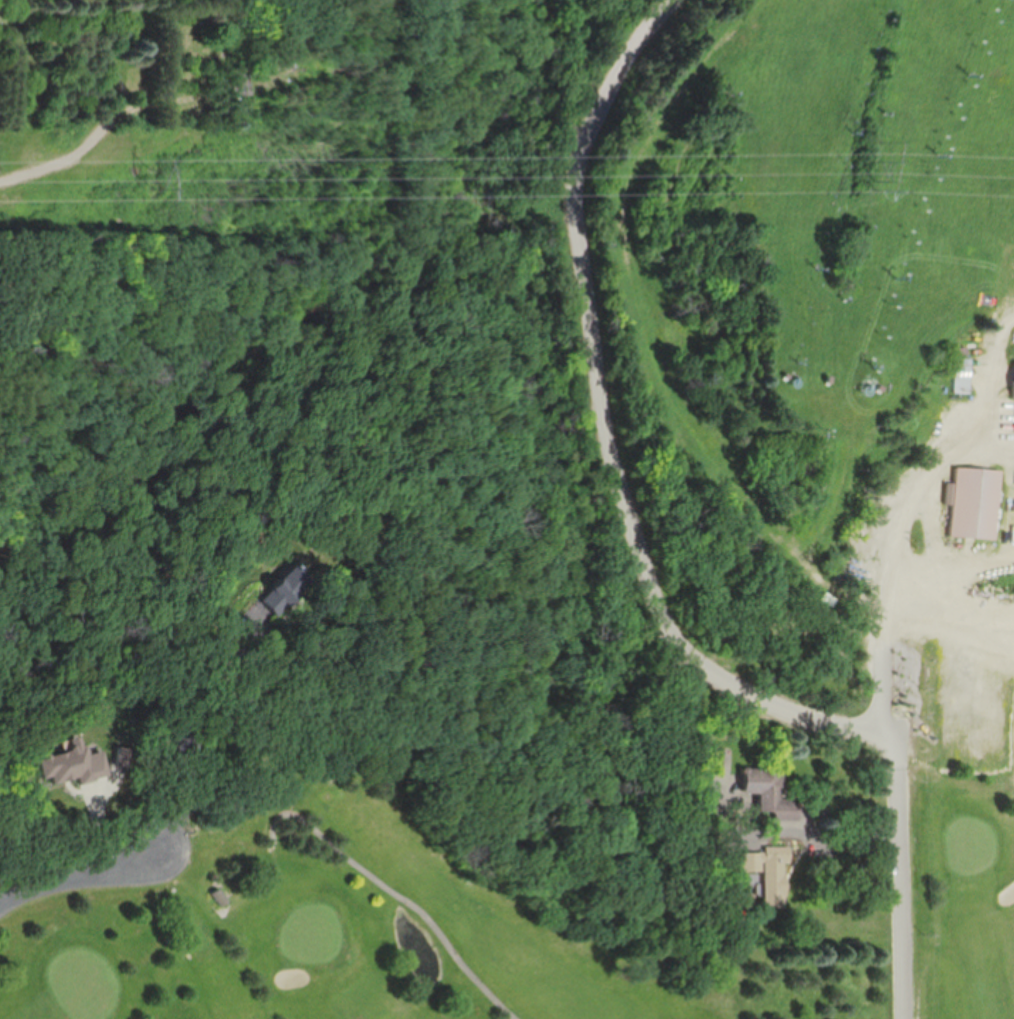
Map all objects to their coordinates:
aerialway pylon: (962, 76)
aerialway pylon: (847, 132)
aerialway pylon: (933, 157)
power tower: (876, 186)
power tower: (158, 206)
aerialway pylon: (809, 268)
aerialway pylon: (888, 278)
ski resort: (834, 283)
road: (995, 358)
aerialway pylon: (782, 359)
road: (603, 437)
road: (984, 444)
building: (974, 503)
road: (905, 560)
road: (958, 570)
building: (280, 592)
road: (965, 643)
road: (1006, 672)
road: (209, 751)
building: (68, 764)
building: (761, 792)
road: (819, 833)
building: (765, 871)
road: (78, 874)
road: (900, 878)
park: (357, 914)
park: (975, 916)

